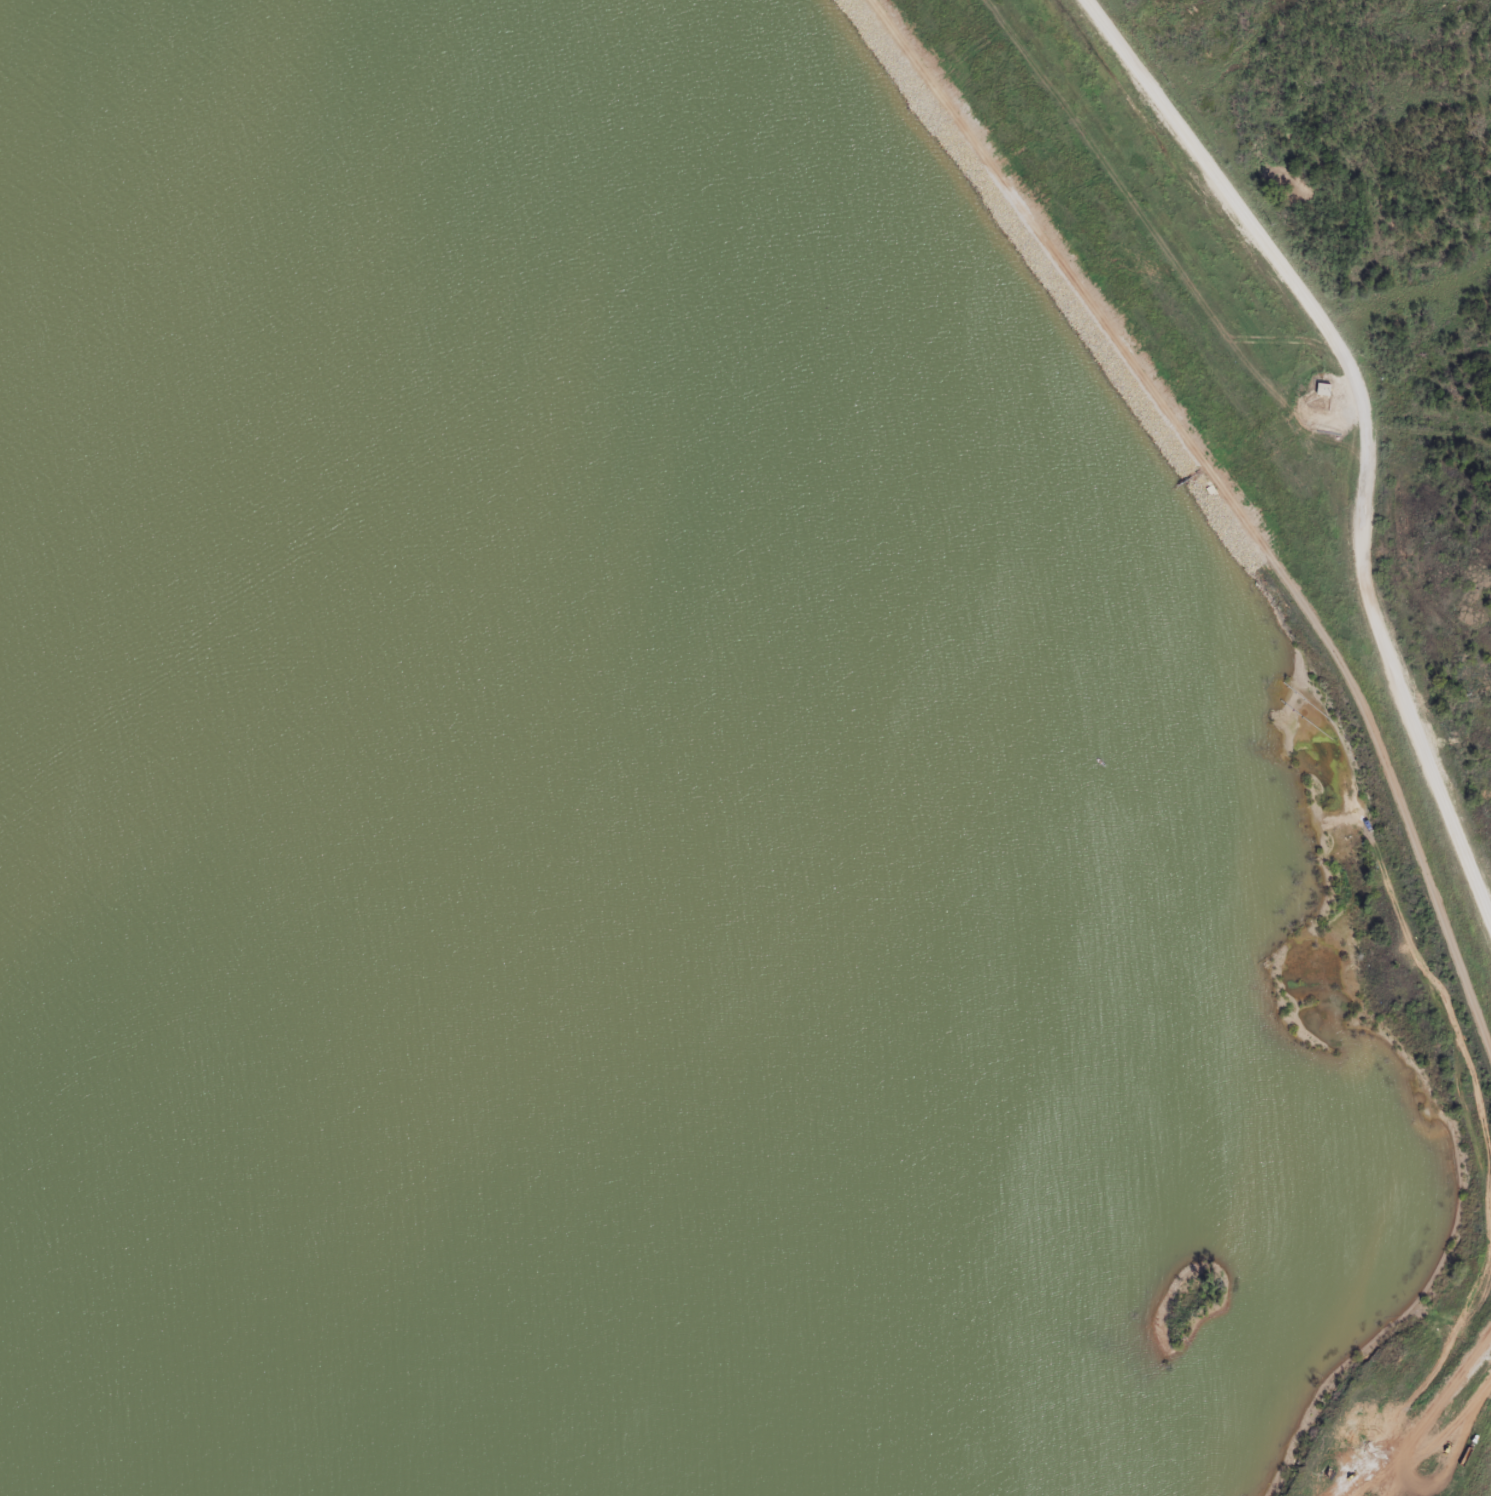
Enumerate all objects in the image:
building: (1320, 388)
road: (1362, 426)

